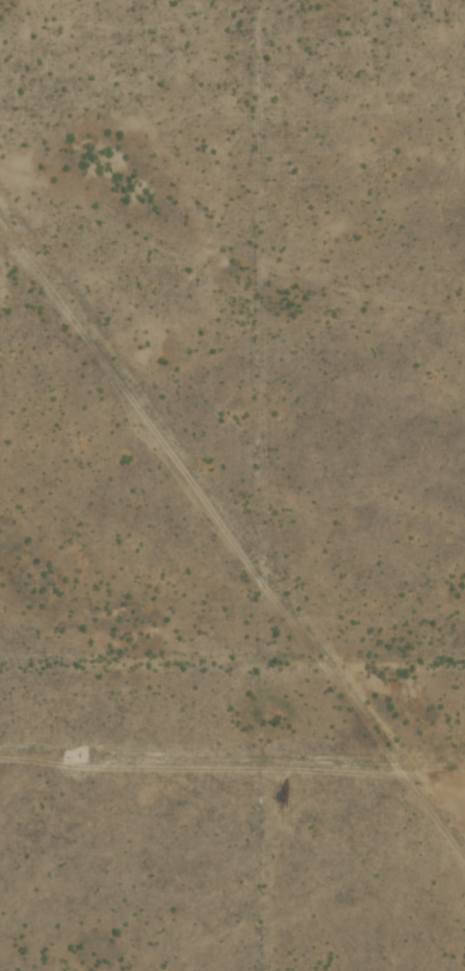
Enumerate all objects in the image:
road: (232, 612)

